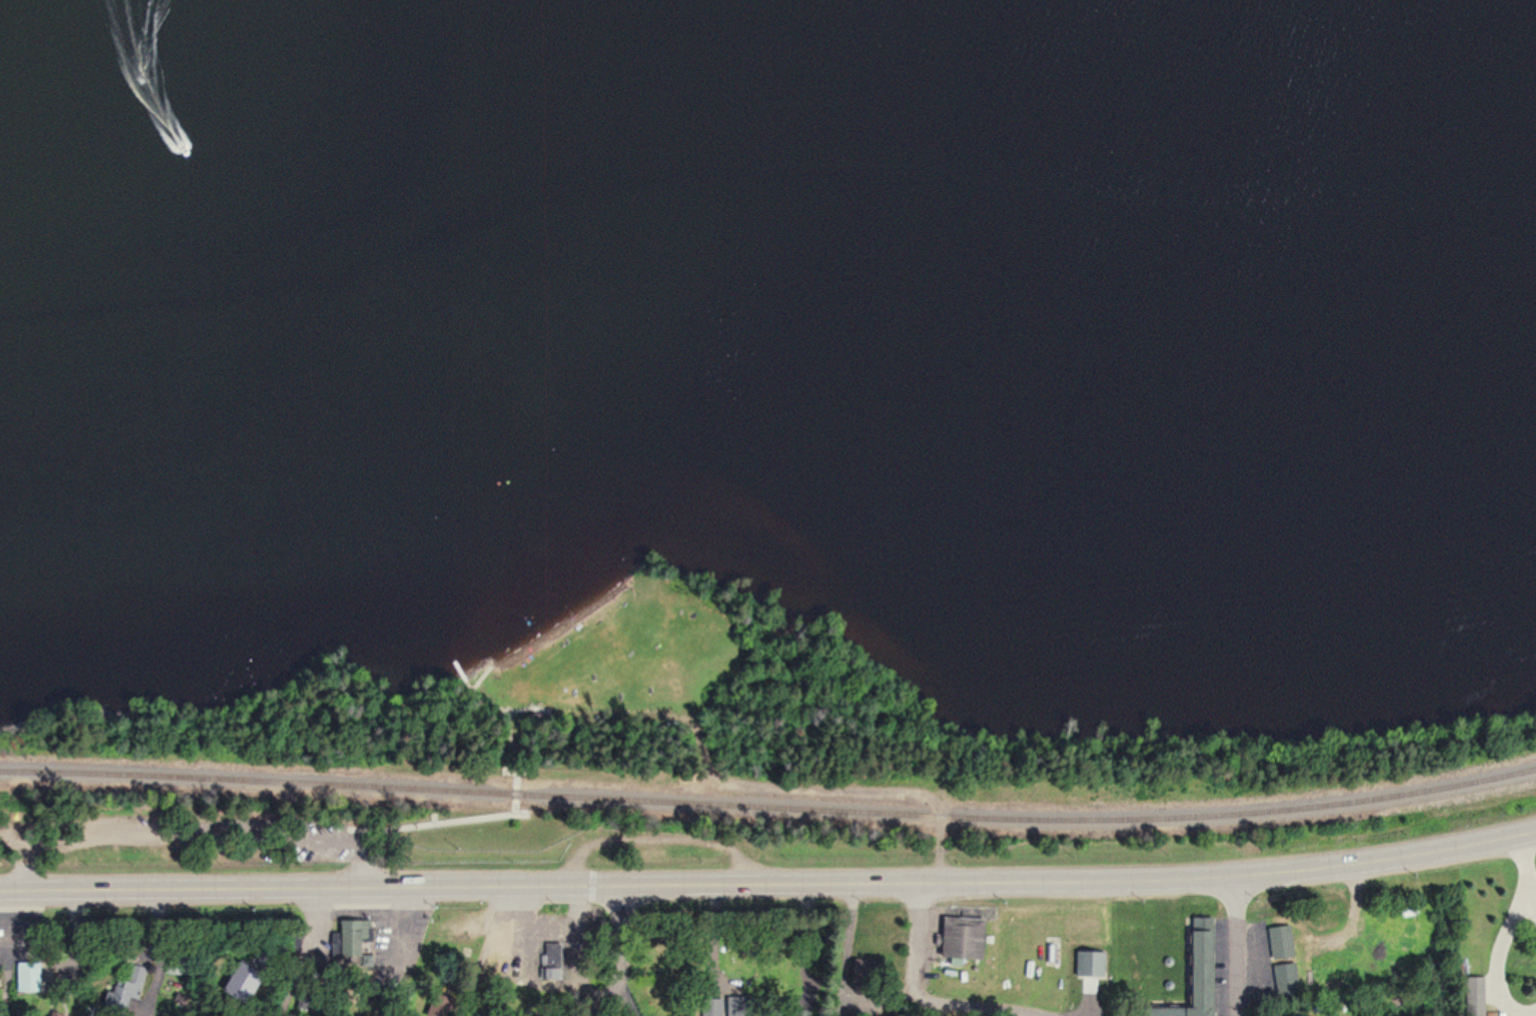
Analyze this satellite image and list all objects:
road: (824, 792)
road: (514, 806)
railway: (769, 806)
road: (330, 840)
road: (365, 863)
road: (1522, 866)
road: (769, 884)
road: (1531, 907)
road: (364, 915)
road: (15, 934)
building: (971, 938)
building: (368, 939)
road: (1236, 945)
road: (619, 955)
road: (1494, 955)
building: (1191, 972)
building: (34, 976)
road: (916, 976)
building: (139, 980)
building: (1470, 995)
building: (747, 1006)
road: (1534, 1015)

